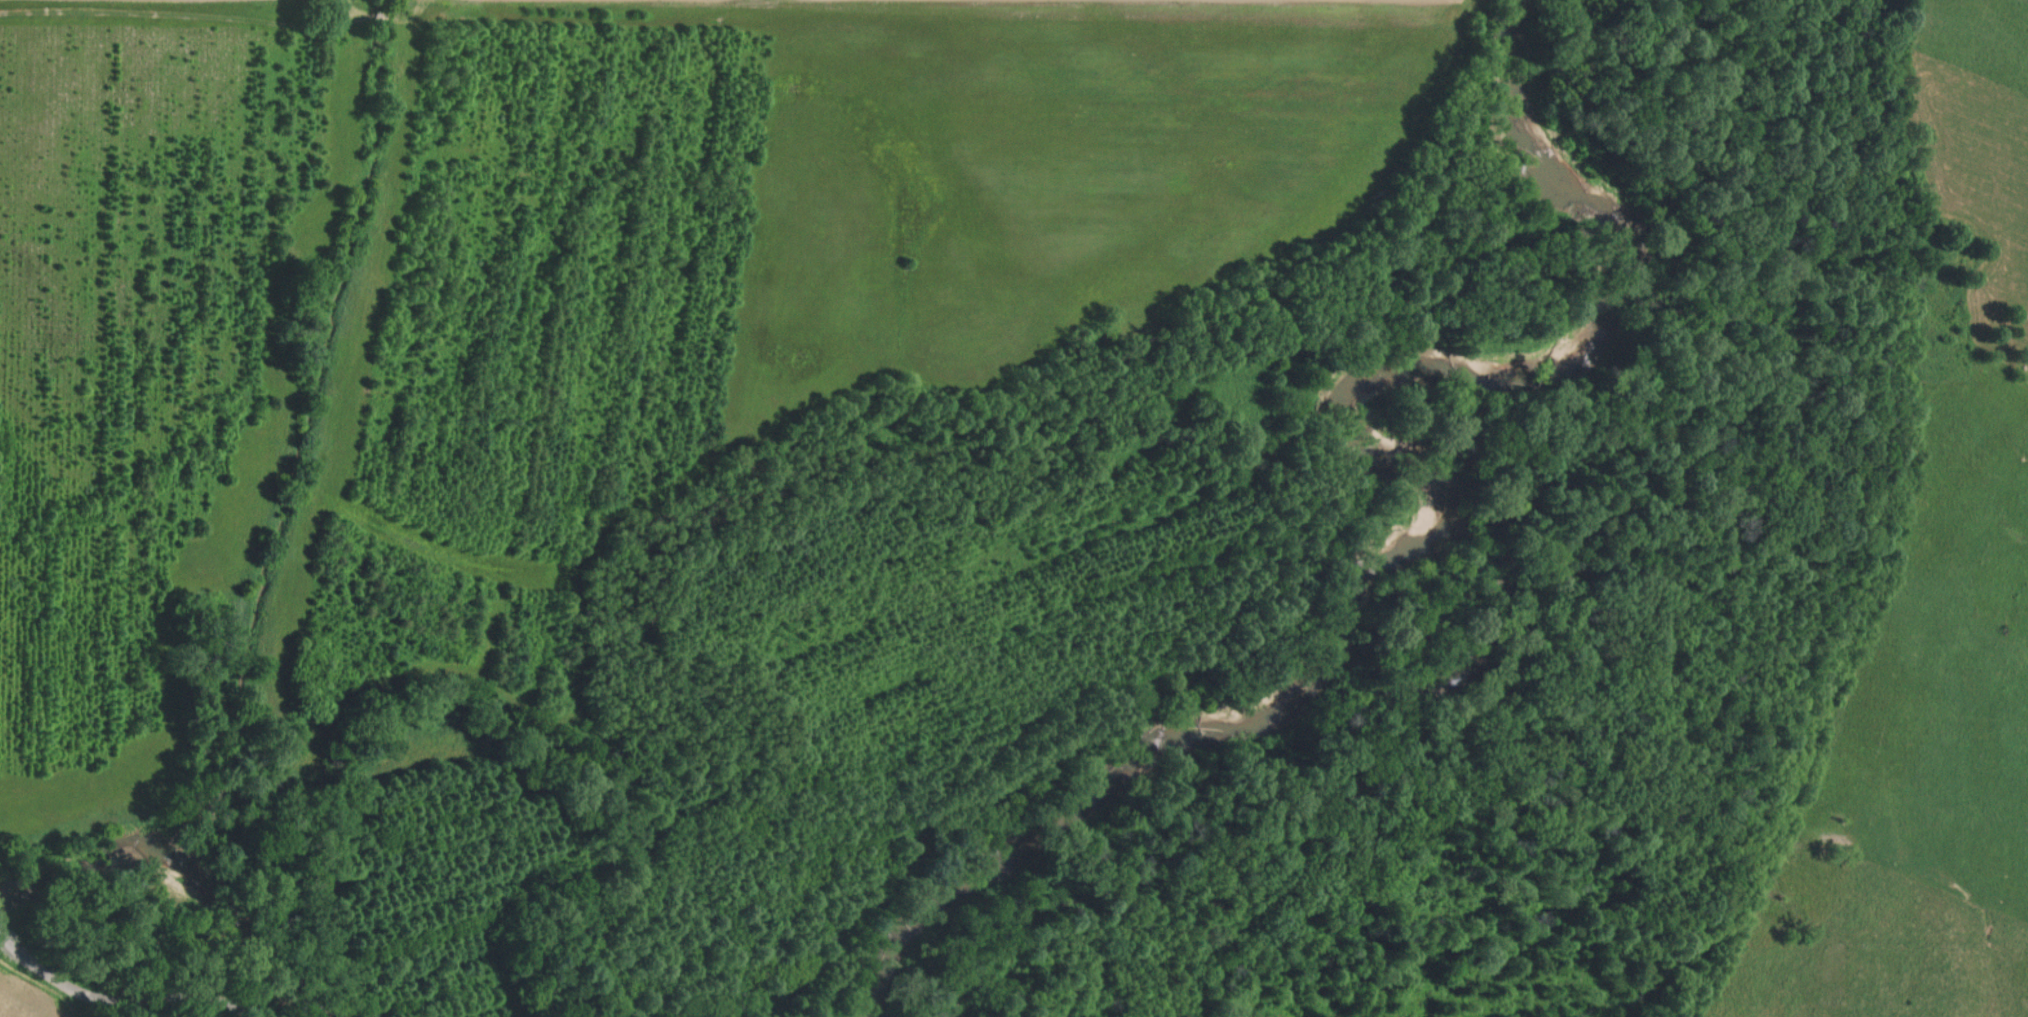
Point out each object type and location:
river: (1392, 525)
river: (193, 868)
road: (6, 915)
road: (128, 996)

